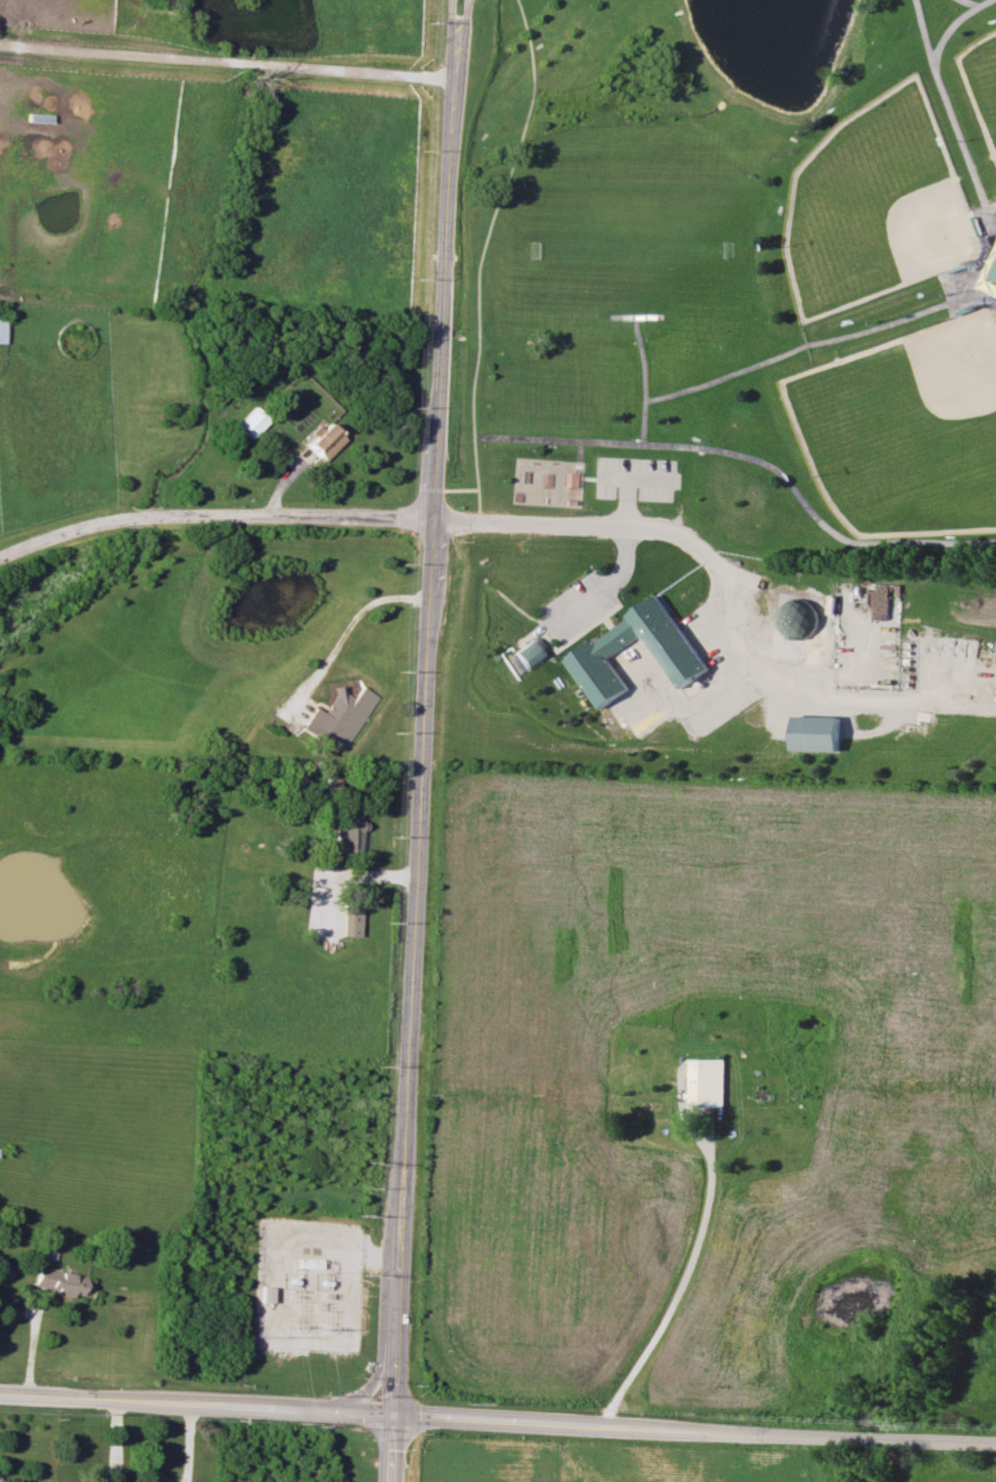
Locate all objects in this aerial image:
road: (453, 25)
road: (465, 25)
road: (228, 61)
park: (983, 80)
park: (884, 207)
road: (485, 241)
park: (630, 242)
road: (833, 340)
road: (645, 380)
park: (733, 401)
building: (251, 422)
park: (909, 430)
building: (323, 440)
road: (750, 459)
road: (212, 518)
road: (675, 536)
road: (607, 585)
building: (797, 619)
road: (347, 624)
building: (604, 645)
building: (530, 653)
road: (863, 700)
building: (340, 716)
road: (421, 729)
building: (816, 733)
building: (347, 832)
road: (347, 875)
building: (350, 921)
building: (708, 1082)
road: (677, 1280)
building: (59, 1281)
building: (264, 1294)
road: (32, 1347)
road: (301, 1406)
traffic signals: (392, 1410)
road: (799, 1427)
road: (390, 1446)

